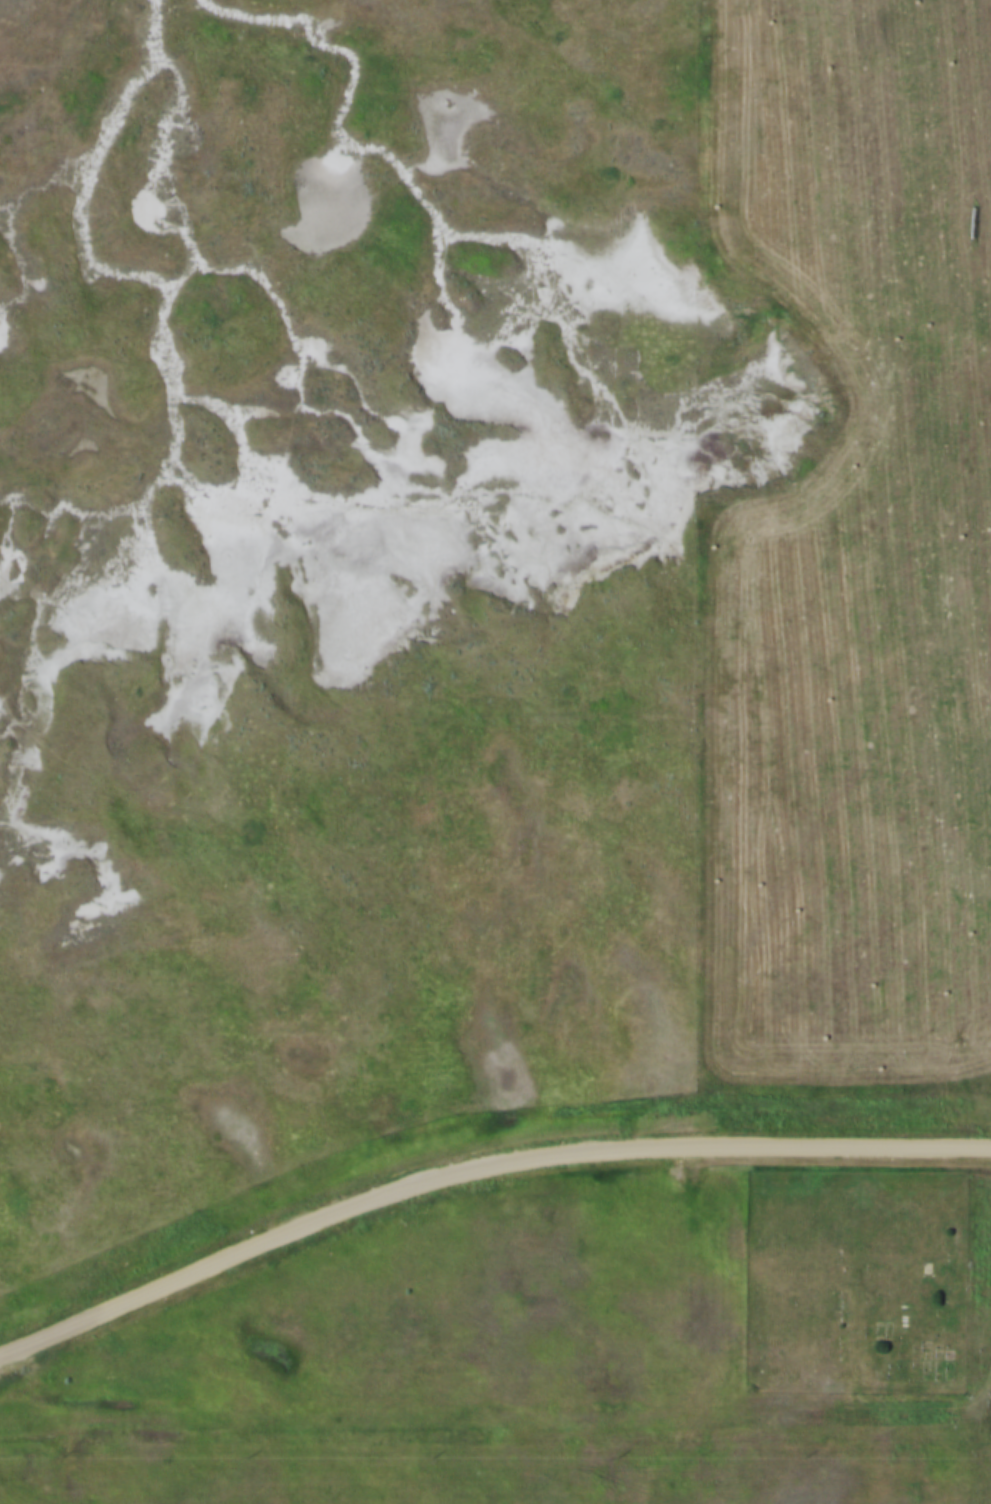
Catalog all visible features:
road: (477, 1162)
park: (850, 1279)
road: (977, 1393)

